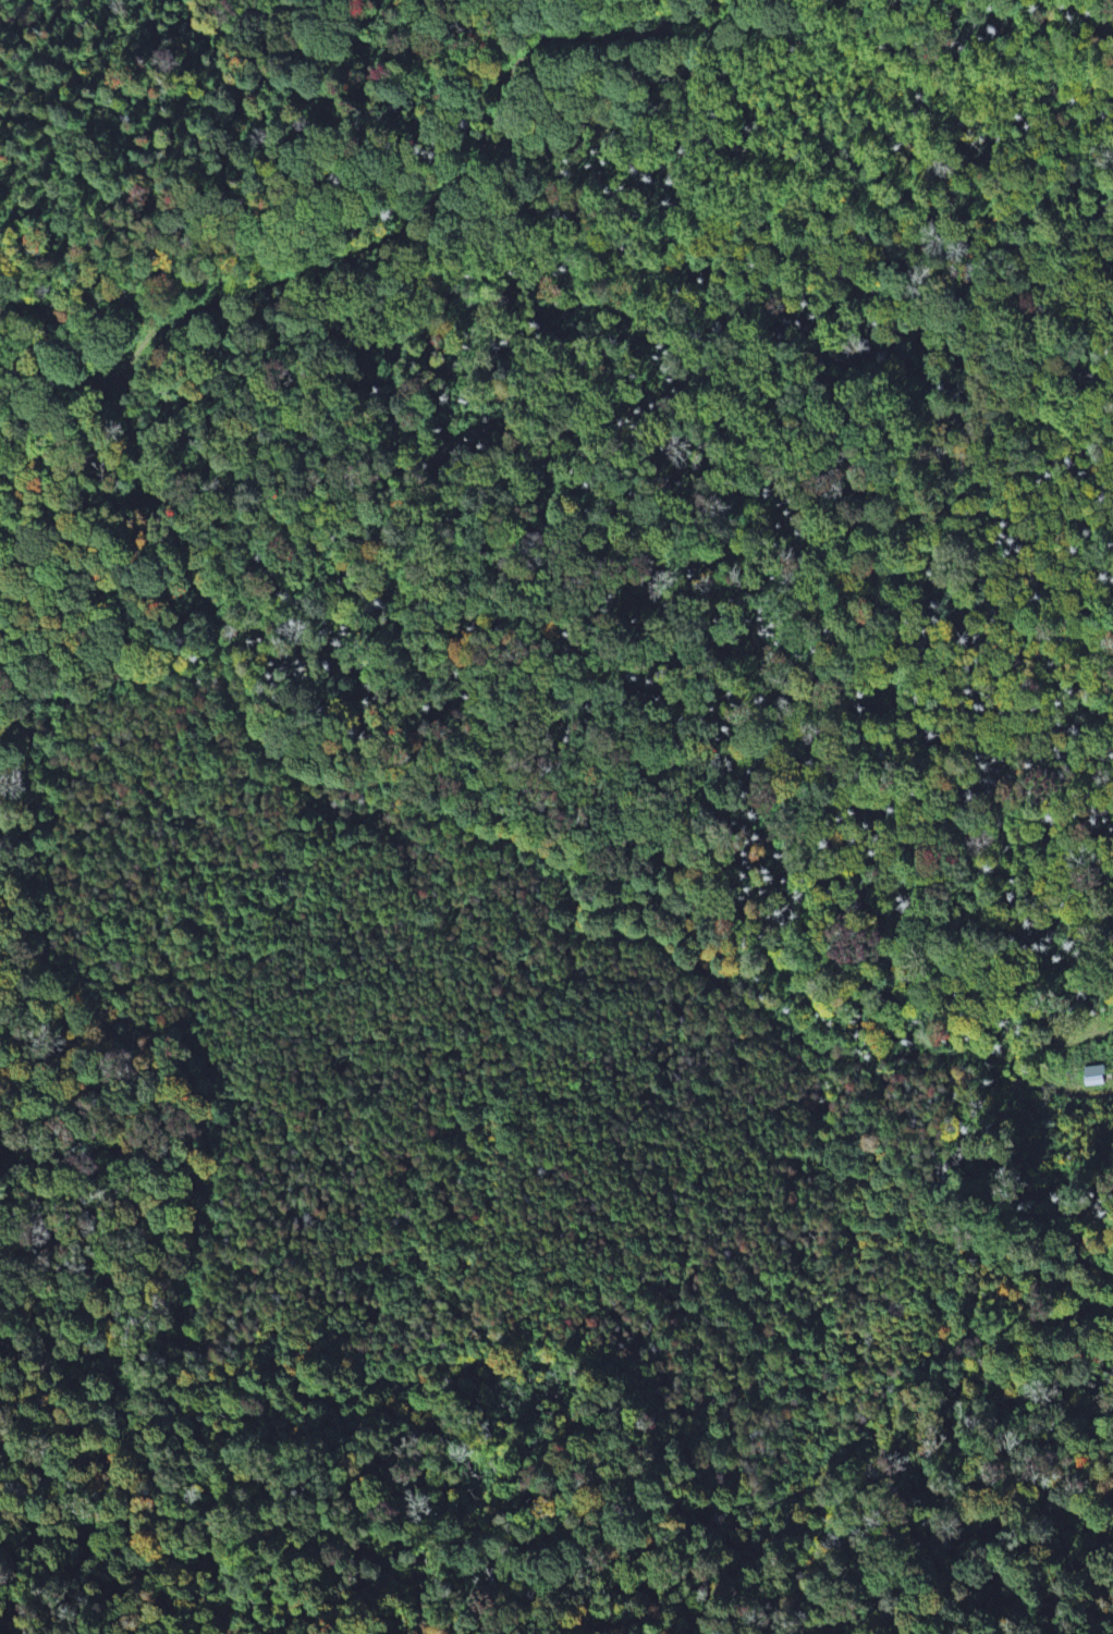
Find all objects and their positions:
road: (427, 205)
road: (455, 821)

